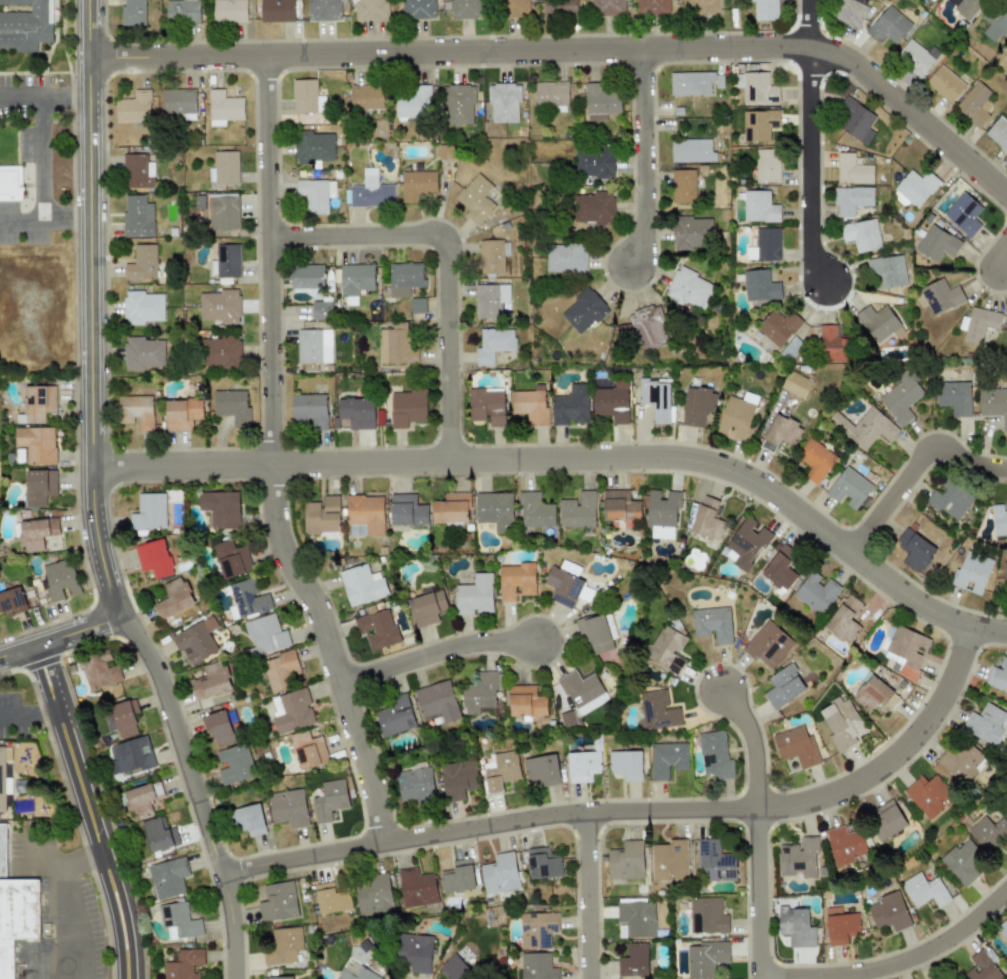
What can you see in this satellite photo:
building: (653, 6)
building: (702, 6)
building: (608, 7)
building: (517, 8)
building: (560, 8)
building: (967, 8)
building: (371, 9)
building: (418, 9)
building: (464, 9)
building: (182, 10)
building: (229, 10)
building: (276, 10)
building: (324, 10)
building: (764, 10)
building: (133, 12)
building: (850, 12)
building: (24, 24)
building: (995, 24)
building: (888, 25)
road: (574, 51)
building: (916, 56)
building: (695, 82)
building: (945, 83)
building: (756, 87)
road: (64, 92)
road: (19, 93)
building: (551, 94)
building: (306, 97)
building: (366, 97)
building: (178, 102)
building: (504, 102)
building: (600, 102)
building: (414, 103)
building: (459, 103)
building: (974, 104)
building: (133, 107)
building: (224, 108)
building: (856, 120)
building: (759, 124)
building: (998, 133)
road: (810, 144)
building: (313, 147)
building: (692, 150)
building: (445, 151)
road: (41, 156)
road: (645, 161)
building: (594, 164)
building: (767, 165)
building: (224, 168)
building: (852, 169)
building: (137, 171)
building: (10, 183)
building: (417, 184)
building: (683, 185)
building: (914, 189)
building: (371, 191)
building: (316, 194)
building: (475, 199)
building: (851, 199)
building: (759, 207)
building: (592, 210)
building: (222, 212)
building: (963, 213)
building: (137, 216)
road: (21, 220)
road: (66, 220)
building: (692, 232)
building: (861, 235)
building: (937, 243)
building: (765, 245)
building: (492, 256)
building: (566, 258)
building: (227, 260)
road: (999, 262)
road: (449, 263)
building: (142, 264)
building: (887, 270)
building: (306, 276)
building: (404, 278)
building: (355, 281)
building: (760, 286)
building: (690, 288)
building: (941, 296)
building: (489, 300)
building: (417, 305)
building: (219, 306)
building: (143, 307)
building: (321, 310)
building: (584, 311)
building: (877, 322)
building: (980, 324)
building: (779, 327)
building: (650, 328)
building: (396, 344)
building: (493, 344)
building: (835, 344)
building: (313, 347)
building: (221, 352)
building: (144, 353)
building: (796, 384)
building: (954, 397)
building: (901, 398)
building: (656, 399)
building: (612, 402)
building: (37, 403)
building: (994, 404)
building: (530, 405)
building: (232, 406)
building: (487, 406)
building: (570, 406)
building: (698, 406)
building: (407, 408)
building: (309, 410)
building: (136, 411)
building: (357, 412)
building: (182, 413)
building: (865, 427)
building: (780, 433)
building: (36, 444)
road: (267, 459)
road: (574, 459)
building: (815, 459)
road: (914, 470)
building: (39, 485)
building: (849, 488)
building: (949, 499)
road: (92, 503)
building: (451, 508)
building: (620, 508)
building: (221, 509)
building: (407, 510)
building: (495, 510)
building: (534, 510)
building: (578, 510)
building: (149, 512)
building: (366, 513)
building: (662, 514)
building: (321, 516)
building: (707, 520)
building: (999, 520)
building: (37, 533)
building: (748, 544)
building: (915, 551)
building: (154, 558)
building: (231, 558)
building: (781, 568)
building: (973, 572)
building: (1005, 578)
building: (60, 579)
building: (517, 581)
building: (362, 585)
building: (563, 586)
building: (816, 592)
building: (474, 595)
building: (173, 598)
building: (247, 598)
building: (12, 601)
building: (427, 608)
building: (844, 620)
building: (712, 624)
building: (377, 629)
building: (266, 634)
building: (595, 634)
road: (59, 638)
building: (196, 640)
building: (767, 644)
building: (667, 650)
building: (904, 650)
road: (438, 651)
building: (99, 670)
building: (279, 670)
building: (998, 677)
building: (211, 681)
building: (783, 686)
building: (583, 691)
building: (874, 693)
building: (482, 694)
building: (437, 701)
building: (527, 702)
building: (291, 711)
building: (658, 711)
road: (28, 712)
building: (395, 716)
building: (842, 723)
building: (987, 726)
building: (218, 728)
road: (755, 747)
building: (797, 747)
building: (308, 750)
building: (131, 755)
building: (715, 755)
building: (668, 759)
building: (235, 764)
building: (626, 764)
building: (961, 764)
building: (582, 766)
building: (501, 769)
building: (542, 769)
building: (458, 779)
building: (2, 780)
building: (416, 785)
building: (927, 795)
building: (1006, 799)
building: (329, 800)
building: (139, 801)
building: (288, 807)
road: (633, 808)
road: (91, 810)
building: (248, 819)
building: (885, 820)
building: (988, 832)
building: (156, 834)
building: (845, 845)
building: (3, 849)
building: (798, 858)
building: (626, 860)
building: (669, 860)
building: (714, 861)
building: (963, 862)
building: (543, 863)
building: (500, 873)
building: (457, 876)
building: (168, 877)
building: (416, 888)
building: (925, 890)
road: (758, 891)
road: (589, 894)
building: (374, 895)
building: (331, 898)
road: (72, 900)
building: (277, 901)
building: (890, 913)
building: (707, 916)
building: (17, 918)
building: (637, 919)
building: (178, 920)
building: (840, 925)
building: (796, 927)
building: (1003, 928)
building: (538, 930)
building: (282, 945)
building: (415, 952)
building: (705, 958)
road: (910, 958)
building: (633, 961)
building: (184, 964)
building: (537, 966)
building: (982, 967)
building: (456, 969)
building: (358, 974)
building: (278, 977)
building: (936, 977)

